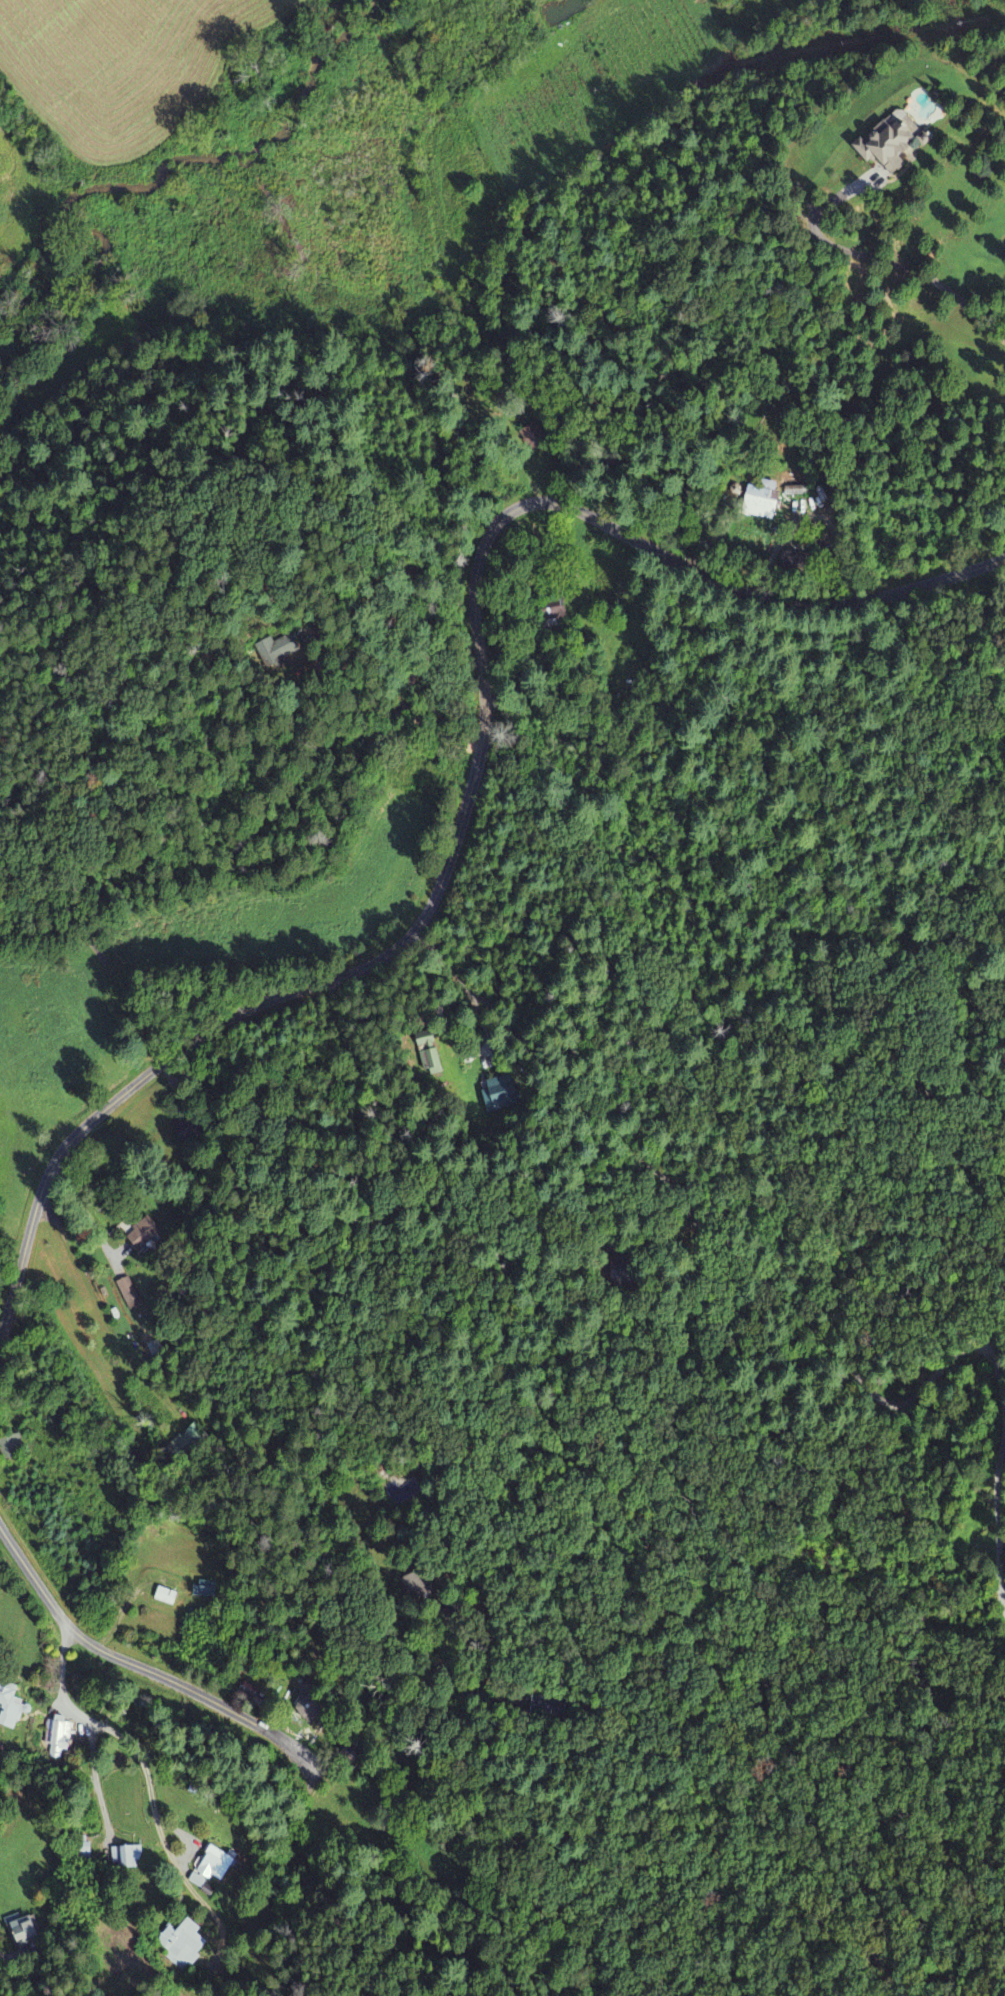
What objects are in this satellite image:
building: (884, 140)
building: (761, 500)
building: (278, 650)
road: (478, 769)
building: (431, 1063)
road: (560, 1075)
road: (860, 1379)
road: (997, 1522)
building: (164, 1597)
road: (204, 1695)
building: (9, 1708)
building: (59, 1739)
building: (127, 1858)
building: (212, 1867)
building: (18, 1934)
building: (182, 1944)
road: (6, 1966)
road: (19, 1985)

